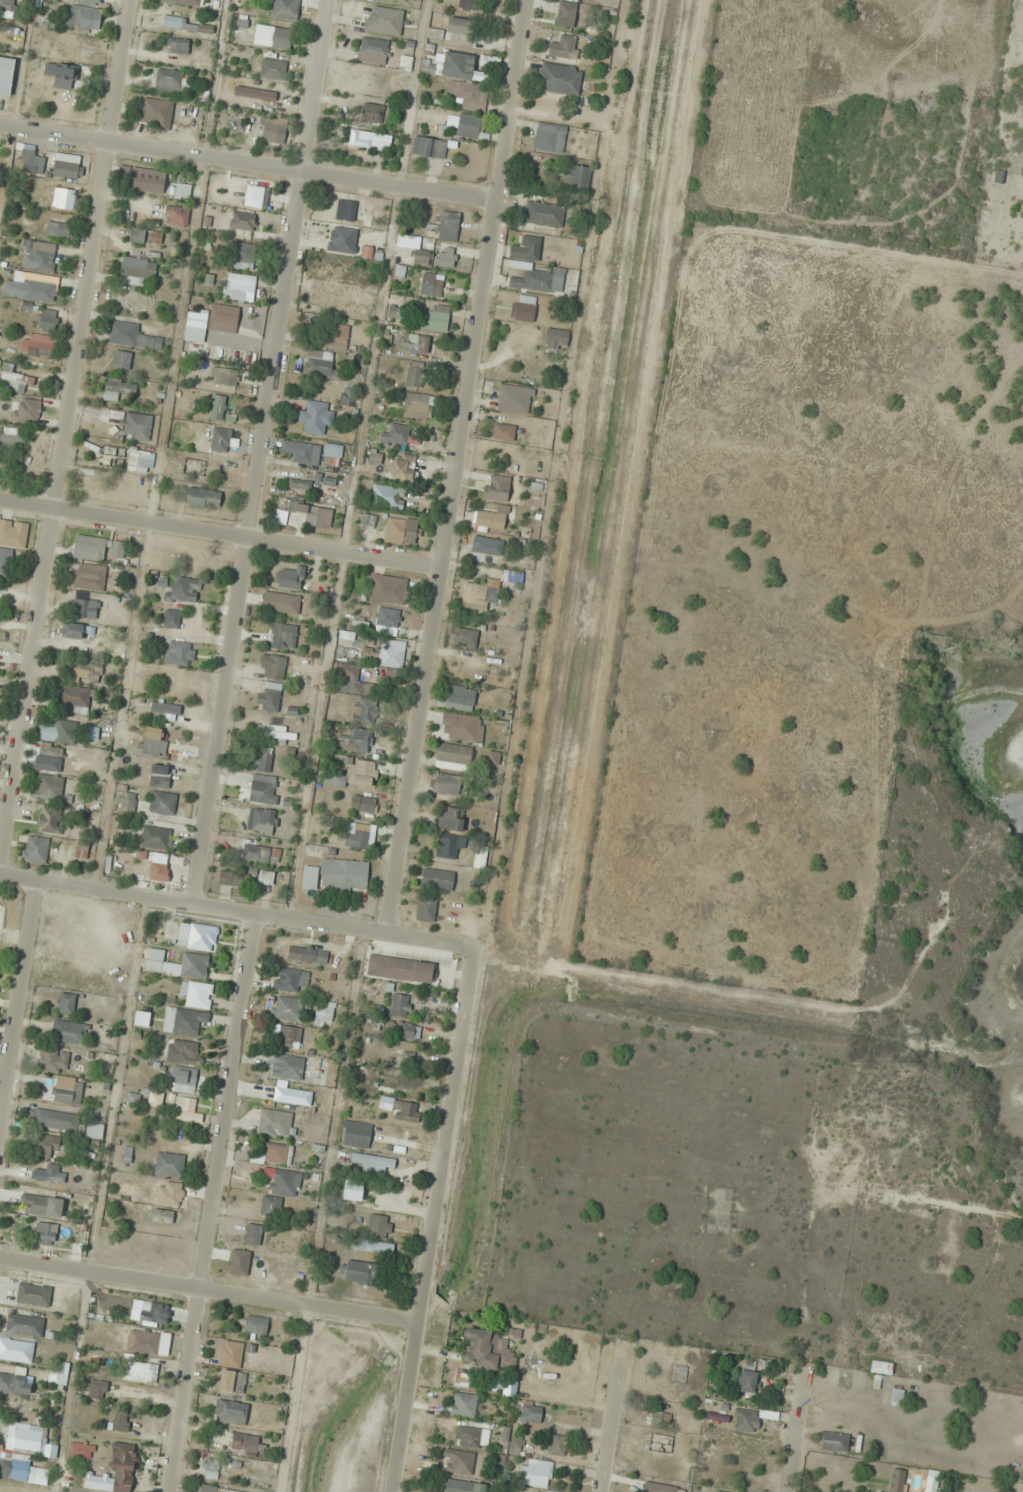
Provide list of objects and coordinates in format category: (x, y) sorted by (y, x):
building: (403, 0)
building: (87, 1)
building: (177, 1)
building: (470, 5)
building: (6, 7)
building: (285, 9)
building: (565, 14)
building: (83, 17)
building: (44, 19)
building: (384, 20)
building: (188, 24)
building: (459, 25)
building: (272, 36)
building: (179, 45)
building: (565, 47)
building: (68, 48)
building: (372, 50)
building: (489, 61)
building: (405, 63)
building: (457, 64)
building: (273, 69)
building: (6, 75)
building: (560, 78)
building: (169, 80)
building: (255, 93)
building: (466, 95)
building: (156, 113)
building: (372, 113)
building: (470, 126)
building: (272, 129)
building: (550, 137)
building: (370, 140)
building: (429, 148)
building: (31, 160)
road: (247, 166)
building: (68, 169)
building: (577, 176)
building: (143, 184)
building: (184, 193)
building: (256, 196)
building: (64, 198)
building: (345, 210)
building: (544, 213)
building: (176, 215)
building: (242, 221)
building: (444, 227)
building: (57, 229)
building: (137, 235)
building: (342, 240)
building: (417, 248)
building: (527, 249)
building: (38, 255)
building: (245, 256)
building: (445, 259)
building: (136, 270)
building: (539, 279)
building: (431, 284)
building: (32, 286)
building: (242, 287)
building: (525, 308)
building: (437, 317)
building: (48, 319)
building: (132, 336)
building: (335, 336)
building: (196, 338)
building: (557, 339)
building: (414, 342)
building: (40, 348)
building: (121, 359)
building: (319, 362)
building: (414, 374)
building: (224, 376)
building: (15, 379)
building: (117, 388)
building: (515, 399)
building: (418, 406)
building: (217, 407)
building: (316, 416)
building: (137, 426)
building: (503, 432)
road: (67, 434)
building: (396, 435)
building: (220, 439)
building: (12, 441)
building: (333, 450)
road: (259, 452)
building: (302, 452)
building: (375, 456)
building: (140, 461)
road: (457, 466)
building: (193, 467)
building: (403, 467)
building: (299, 484)
building: (495, 491)
building: (387, 497)
building: (203, 498)
building: (313, 514)
building: (368, 520)
building: (489, 522)
building: (401, 531)
building: (13, 534)
road: (221, 535)
building: (487, 545)
building: (93, 548)
building: (5, 561)
building: (89, 577)
building: (290, 578)
building: (185, 589)
building: (389, 589)
building: (480, 594)
building: (281, 602)
building: (84, 608)
building: (172, 619)
building: (388, 620)
building: (72, 630)
building: (283, 636)
building: (466, 638)
building: (109, 648)
building: (180, 653)
building: (391, 653)
building: (272, 666)
building: (85, 671)
building: (348, 672)
building: (270, 696)
building: (460, 697)
building: (75, 699)
building: (166, 710)
building: (365, 713)
building: (461, 727)
building: (59, 732)
building: (283, 735)
building: (361, 740)
building: (153, 743)
building: (453, 756)
building: (49, 757)
building: (263, 761)
building: (364, 773)
building: (160, 776)
building: (447, 784)
building: (49, 788)
building: (262, 790)
building: (127, 802)
building: (162, 803)
building: (363, 803)
building: (451, 819)
building: (50, 820)
building: (262, 821)
building: (357, 835)
building: (155, 838)
building: (449, 846)
building: (36, 849)
building: (260, 853)
building: (159, 871)
building: (344, 874)
building: (310, 877)
building: (235, 878)
building: (438, 879)
road: (193, 904)
building: (426, 909)
building: (197, 936)
building: (0, 954)
building: (307, 954)
building: (176, 964)
building: (400, 969)
building: (288, 979)
building: (197, 994)
building: (66, 1003)
building: (400, 1004)
road: (19, 1005)
building: (286, 1009)
building: (141, 1019)
building: (322, 1020)
building: (181, 1022)
building: (404, 1030)
building: (70, 1032)
building: (289, 1037)
building: (183, 1051)
building: (53, 1060)
building: (285, 1067)
river: (975, 1075)
building: (182, 1080)
building: (68, 1091)
building: (292, 1096)
building: (185, 1105)
building: (404, 1111)
building: (54, 1119)
building: (275, 1123)
building: (94, 1131)
building: (356, 1135)
building: (48, 1145)
building: (277, 1154)
building: (169, 1164)
building: (371, 1164)
building: (54, 1176)
road: (438, 1178)
building: (285, 1183)
building: (352, 1190)
building: (169, 1193)
road: (213, 1204)
building: (38, 1205)
building: (270, 1206)
building: (378, 1227)
building: (45, 1233)
building: (253, 1235)
building: (373, 1246)
building: (357, 1272)
road: (209, 1292)
building: (33, 1294)
building: (24, 1325)
building: (255, 1325)
building: (149, 1342)
building: (16, 1350)
building: (486, 1350)
building: (230, 1354)
building: (881, 1367)
building: (140, 1372)
building: (60, 1374)
building: (232, 1381)
building: (747, 1381)
building: (15, 1382)
building: (97, 1389)
building: (896, 1395)
building: (463, 1405)
building: (231, 1412)
building: (531, 1412)
road: (610, 1418)
building: (746, 1420)
building: (120, 1421)
road: (798, 1434)
building: (471, 1437)
building: (29, 1441)
building: (834, 1441)
building: (245, 1443)
building: (556, 1445)
building: (81, 1449)
building: (459, 1462)
building: (210, 1468)
building: (14, 1470)
building: (115, 1473)
building: (535, 1473)
building: (931, 1484)
building: (462, 1486)
building: (663, 1488)
building: (213, 1489)
building: (550, 1491)

